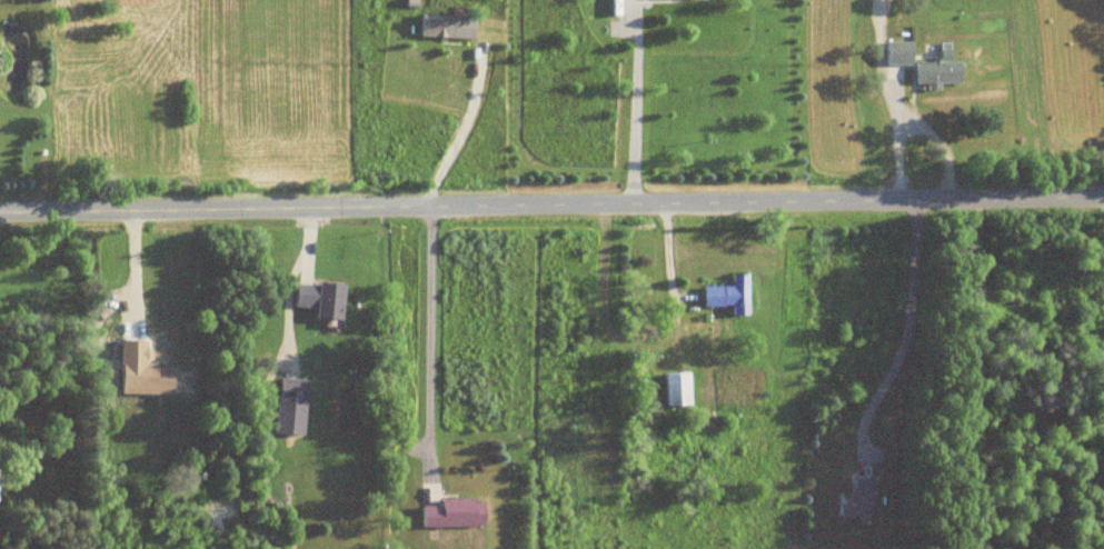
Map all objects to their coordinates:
building: (442, 27)
building: (895, 52)
building: (935, 73)
road: (631, 122)
road: (894, 137)
road: (450, 142)
road: (936, 147)
road: (551, 207)
road: (132, 281)
building: (726, 296)
building: (317, 300)
road: (903, 329)
road: (425, 333)
building: (149, 379)
building: (673, 390)
building: (288, 408)
building: (854, 500)
building: (448, 515)

